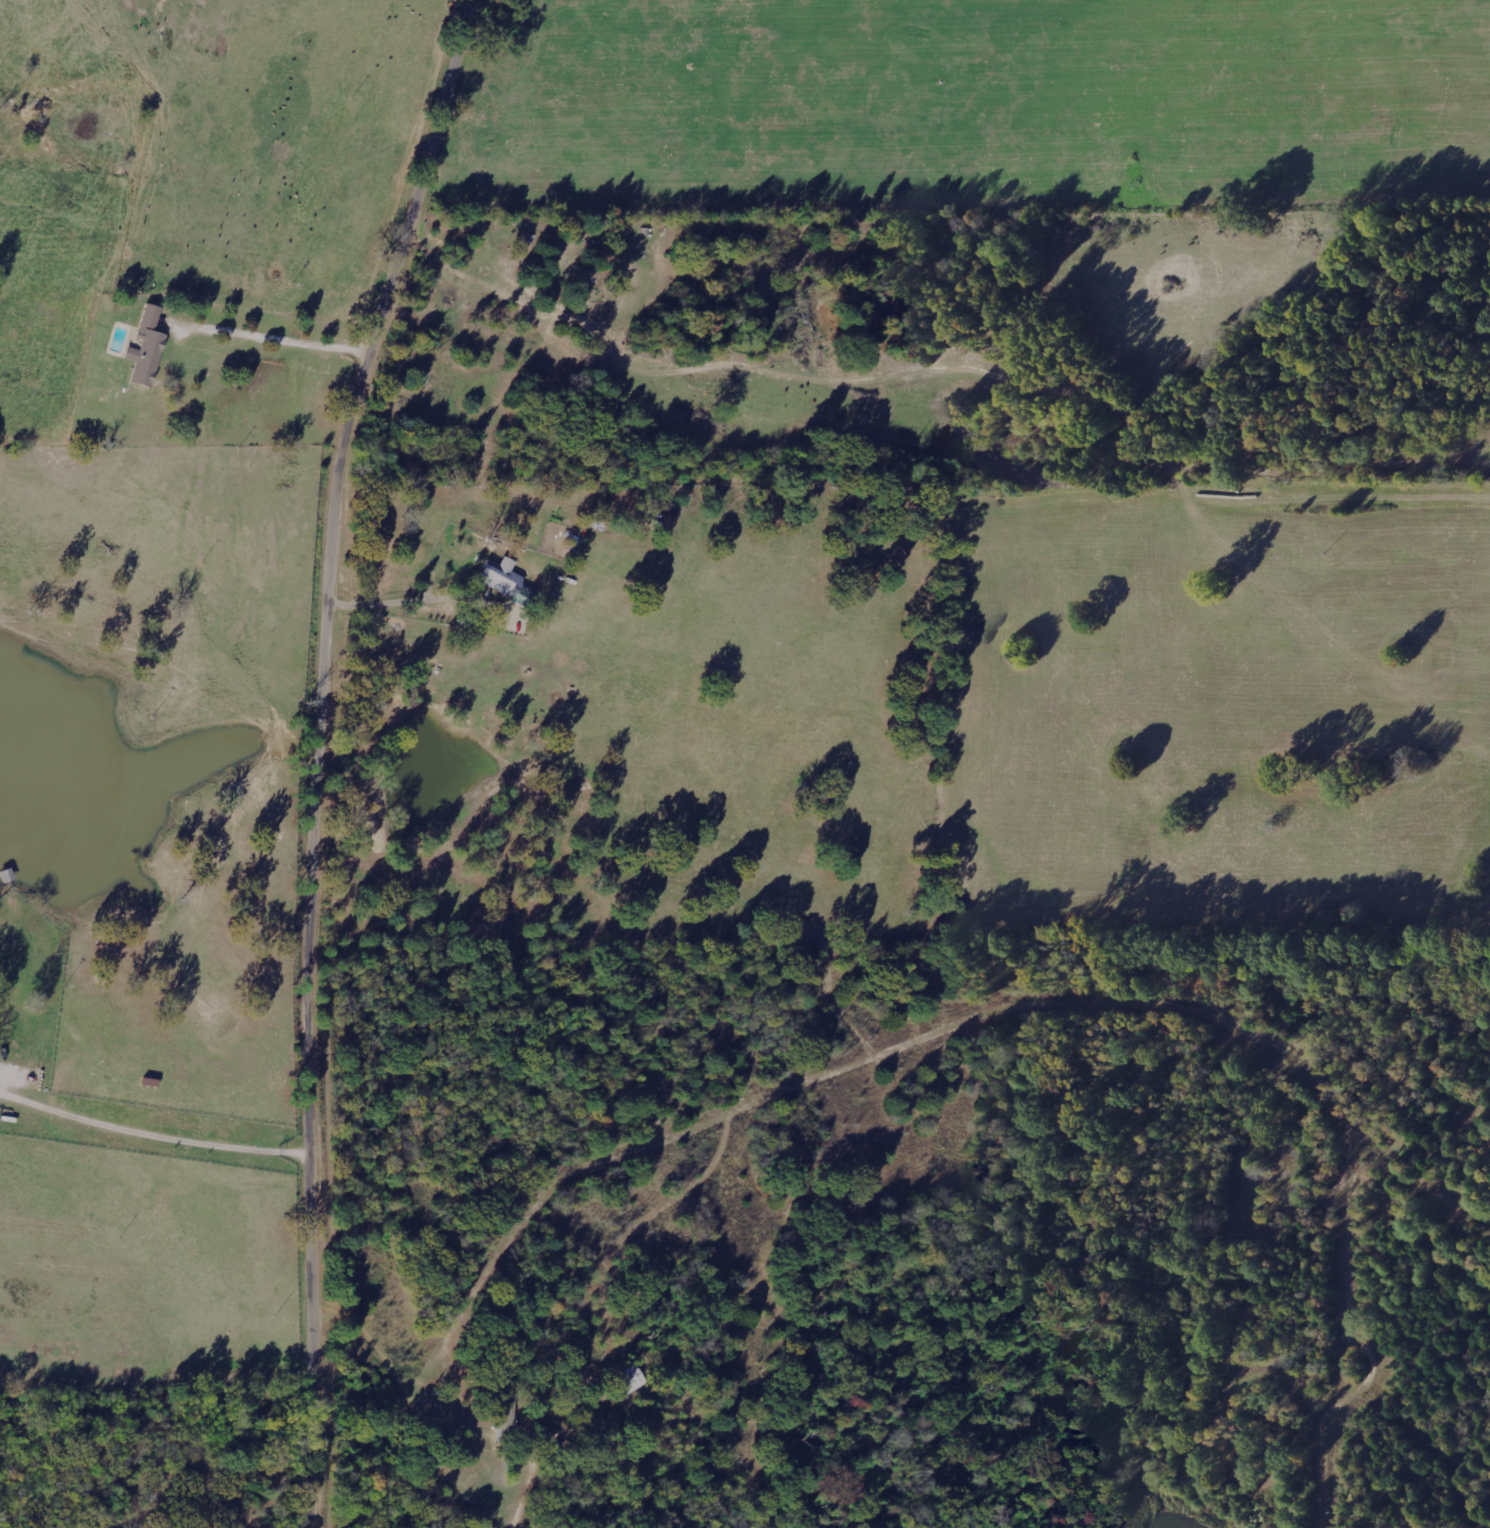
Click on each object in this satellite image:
building: (145, 349)
building: (494, 578)
road: (425, 594)
building: (520, 595)
road: (321, 754)
building: (631, 1379)

